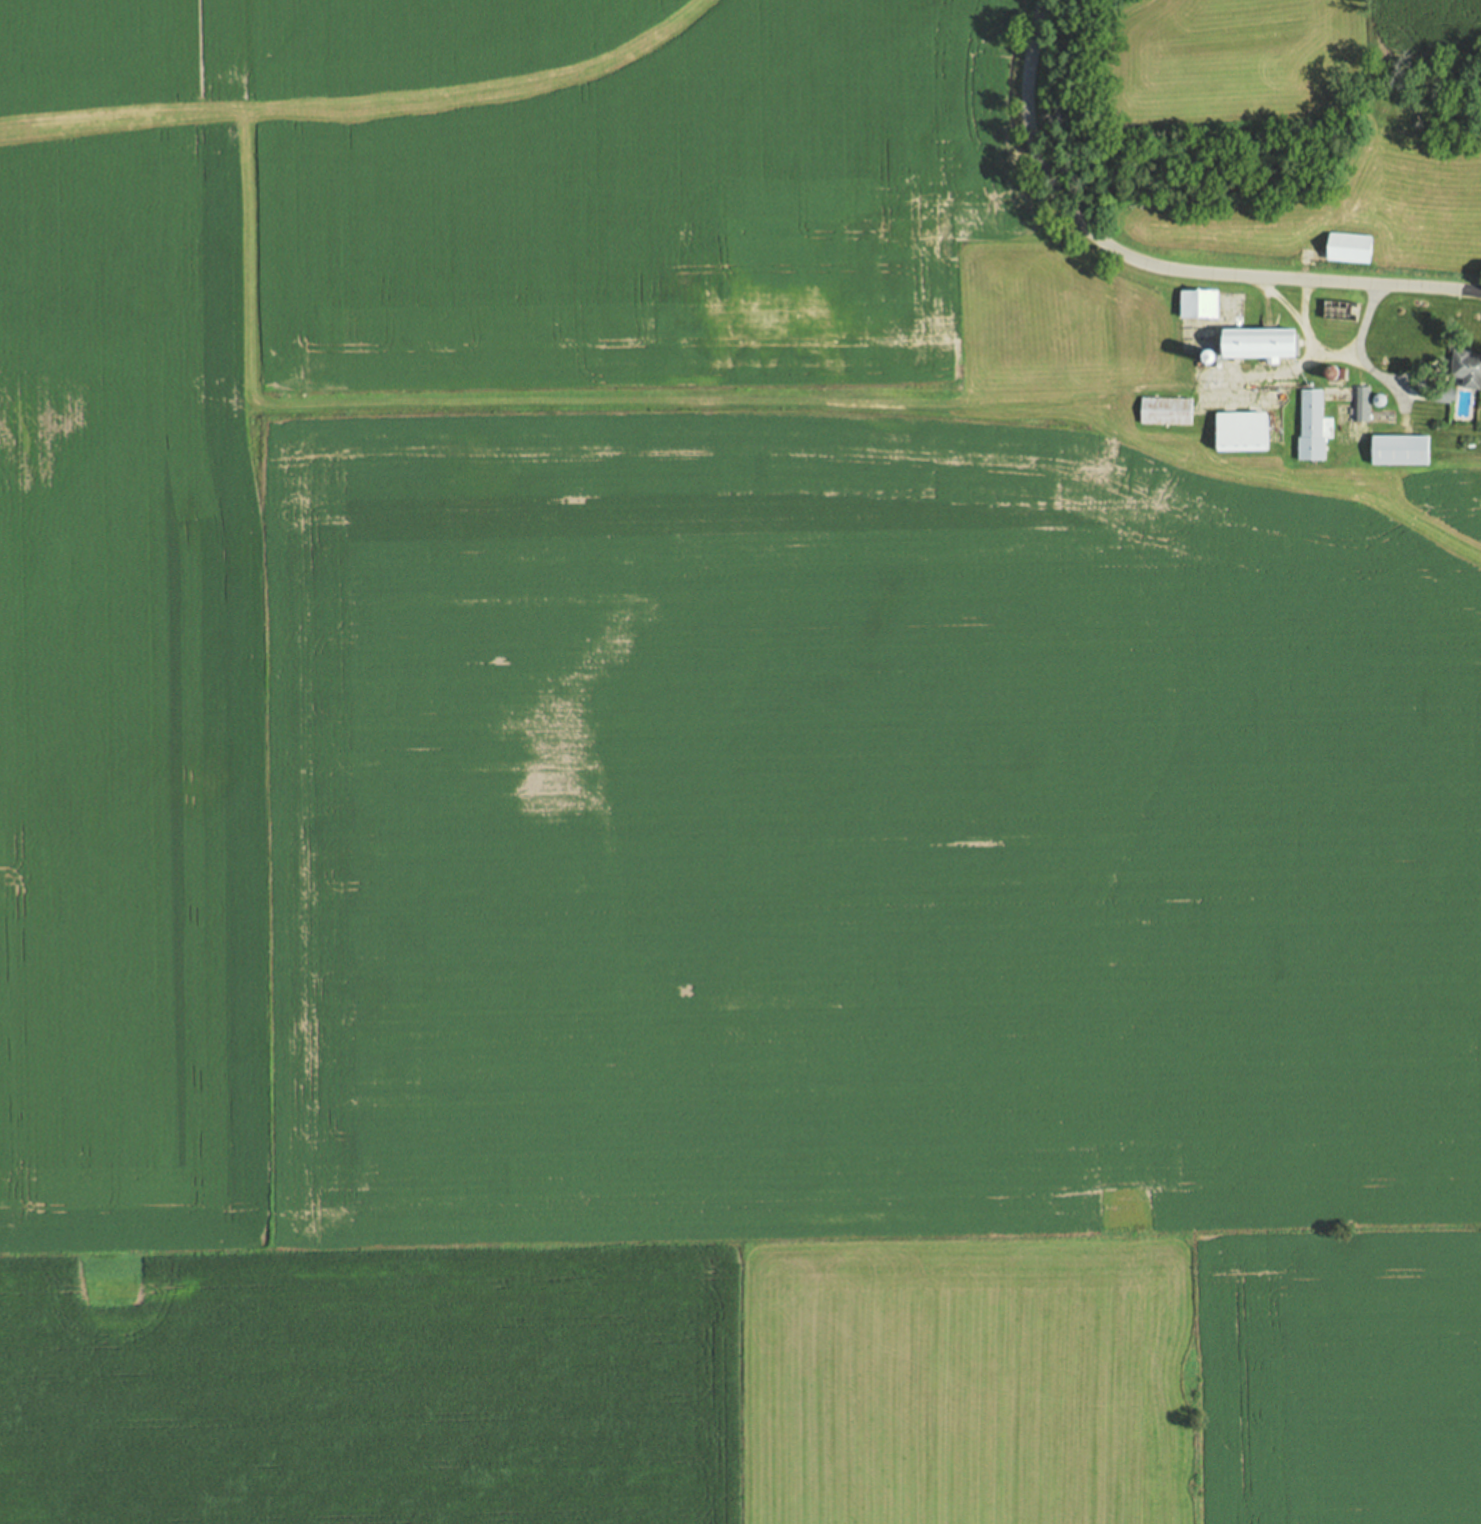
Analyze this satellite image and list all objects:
building: (1347, 248)
road: (1155, 265)
road: (1303, 304)
building: (1194, 305)
building: (1335, 311)
road: (1302, 330)
building: (1255, 345)
building: (1200, 358)
silo: (1200, 358)
road: (1363, 363)
building: (1463, 368)
building: (1326, 373)
silo: (1326, 373)
building: (1440, 393)
building: (1378, 400)
silo: (1378, 400)
building: (1359, 403)
building: (1164, 412)
building: (1307, 429)
building: (1238, 431)
building: (1398, 450)

